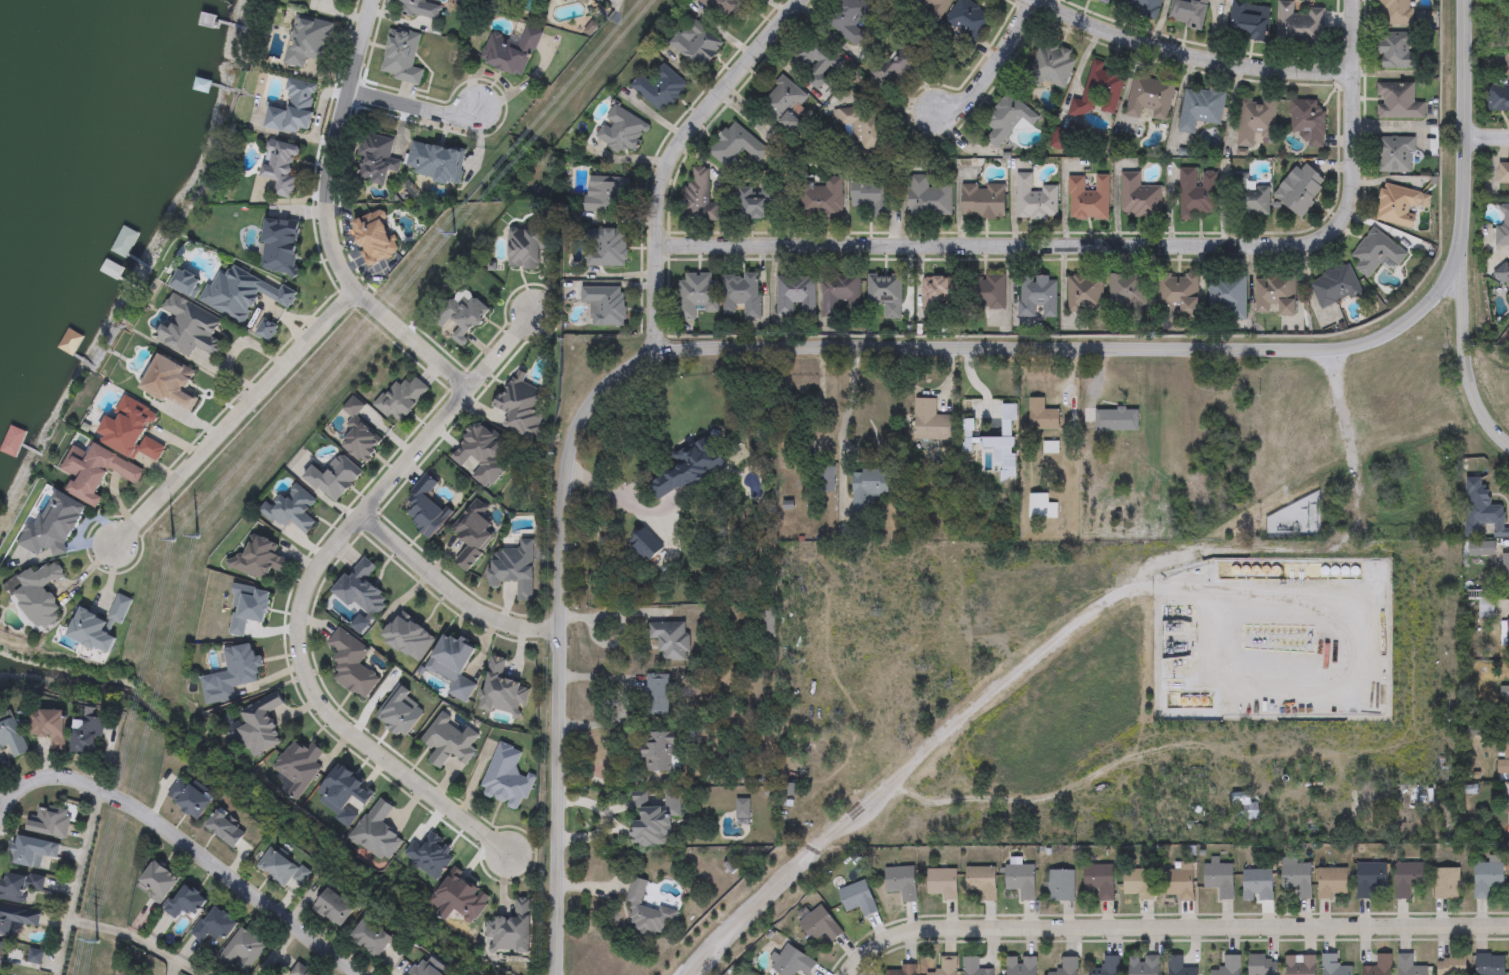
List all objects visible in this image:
building: (1105, 1)
building: (591, 2)
building: (938, 4)
building: (722, 7)
building: (1142, 7)
building: (419, 9)
building: (1187, 13)
building: (1395, 13)
building: (851, 19)
building: (969, 20)
building: (1249, 20)
building: (1299, 23)
building: (696, 45)
building: (510, 51)
building: (1397, 52)
road: (1188, 57)
building: (814, 66)
building: (897, 66)
road: (992, 66)
building: (1053, 66)
building: (659, 88)
building: (1100, 92)
building: (1498, 96)
building: (1150, 97)
building: (1398, 102)
building: (784, 103)
road: (414, 104)
building: (1200, 109)
building: (1007, 120)
road: (1464, 120)
building: (1256, 121)
building: (1309, 122)
building: (864, 127)
building: (620, 131)
road: (1487, 138)
building: (1059, 141)
building: (738, 145)
road: (332, 146)
road: (678, 155)
building: (1396, 155)
building: (1504, 172)
building: (1301, 189)
building: (1198, 192)
building: (873, 194)
building: (606, 195)
building: (701, 198)
building: (928, 198)
building: (1139, 198)
building: (1250, 198)
building: (822, 200)
building: (1034, 200)
building: (1089, 200)
building: (983, 201)
building: (758, 204)
building: (1398, 206)
building: (1503, 227)
power tower: (452, 235)
building: (527, 242)
road: (1110, 243)
building: (606, 248)
building: (1376, 253)
building: (1503, 278)
building: (1335, 287)
building: (988, 292)
building: (885, 294)
building: (1085, 294)
building: (1275, 294)
building: (698, 295)
building: (741, 295)
building: (841, 295)
building: (1128, 295)
building: (1179, 295)
building: (795, 296)
building: (938, 296)
building: (1038, 297)
building: (1227, 297)
building: (605, 305)
road: (411, 340)
road: (754, 349)
road: (1462, 365)
road: (927, 392)
building: (522, 402)
building: (1040, 414)
road: (235, 419)
building: (929, 420)
building: (1114, 420)
road: (843, 424)
building: (994, 440)
road: (1348, 440)
building: (14, 441)
building: (685, 466)
building: (822, 477)
building: (866, 486)
road: (618, 501)
building: (54, 525)
power tower: (197, 538)
road: (1282, 547)
building: (1506, 573)
road: (303, 590)
building: (38, 594)
road: (450, 594)
road: (603, 613)
building: (1505, 635)
building: (408, 637)
building: (669, 638)
building: (351, 663)
building: (453, 665)
building: (231, 673)
road: (1001, 683)
building: (502, 691)
building: (1505, 692)
building: (655, 693)
building: (399, 710)
building: (259, 724)
building: (450, 739)
building: (657, 750)
building: (1504, 759)
building: (298, 766)
building: (506, 778)
building: (344, 793)
road: (12, 795)
building: (1245, 808)
building: (1508, 811)
building: (651, 816)
building: (375, 831)
road: (206, 857)
building: (1297, 876)
building: (1408, 877)
building: (1487, 877)
building: (1219, 878)
building: (1370, 878)
building: (1100, 879)
building: (159, 880)
building: (1020, 880)
road: (78, 881)
building: (981, 881)
building: (900, 882)
building: (1179, 882)
building: (1332, 882)
building: (942, 883)
building: (1138, 883)
building: (1447, 883)
building: (1060, 884)
building: (1257, 885)
building: (857, 898)
building: (458, 899)
building: (185, 901)
road: (748, 908)
building: (643, 912)
building: (819, 924)
building: (214, 925)
road: (1175, 926)
building: (512, 930)
road: (137, 940)
power tower: (95, 943)
road: (274, 949)
building: (790, 961)
building: (1143, 964)
building: (1489, 964)
building: (946, 965)
building: (1020, 965)
building: (1108, 965)
building: (1262, 965)
building: (1300, 965)
building: (1335, 965)
building: (1451, 965)
building: (1065, 966)
building: (1178, 966)
building: (1227, 966)
building: (974, 967)
building: (1378, 967)
building: (424, 969)
building: (905, 969)
road: (361, 973)

